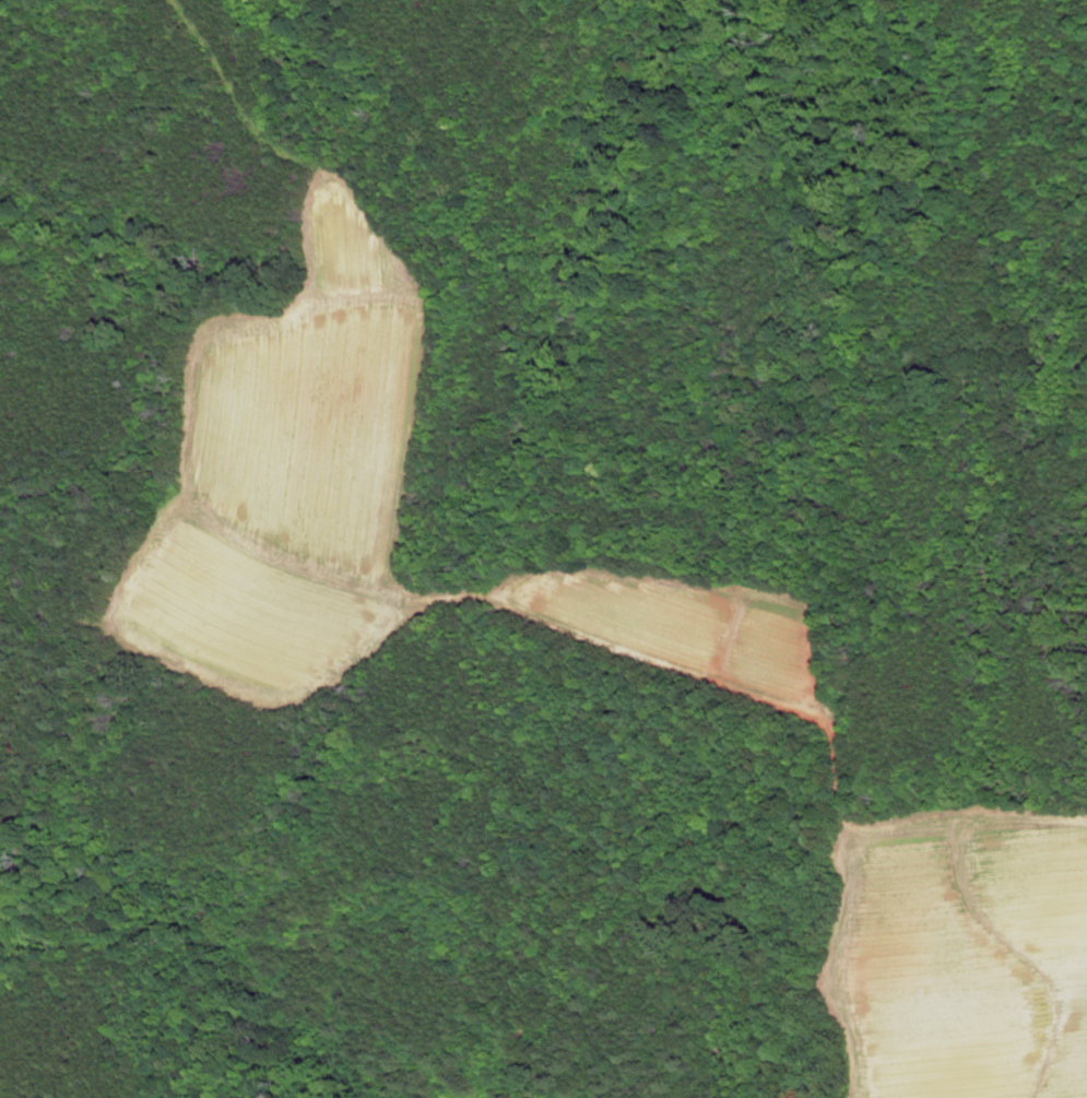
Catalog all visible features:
road: (812, 849)

